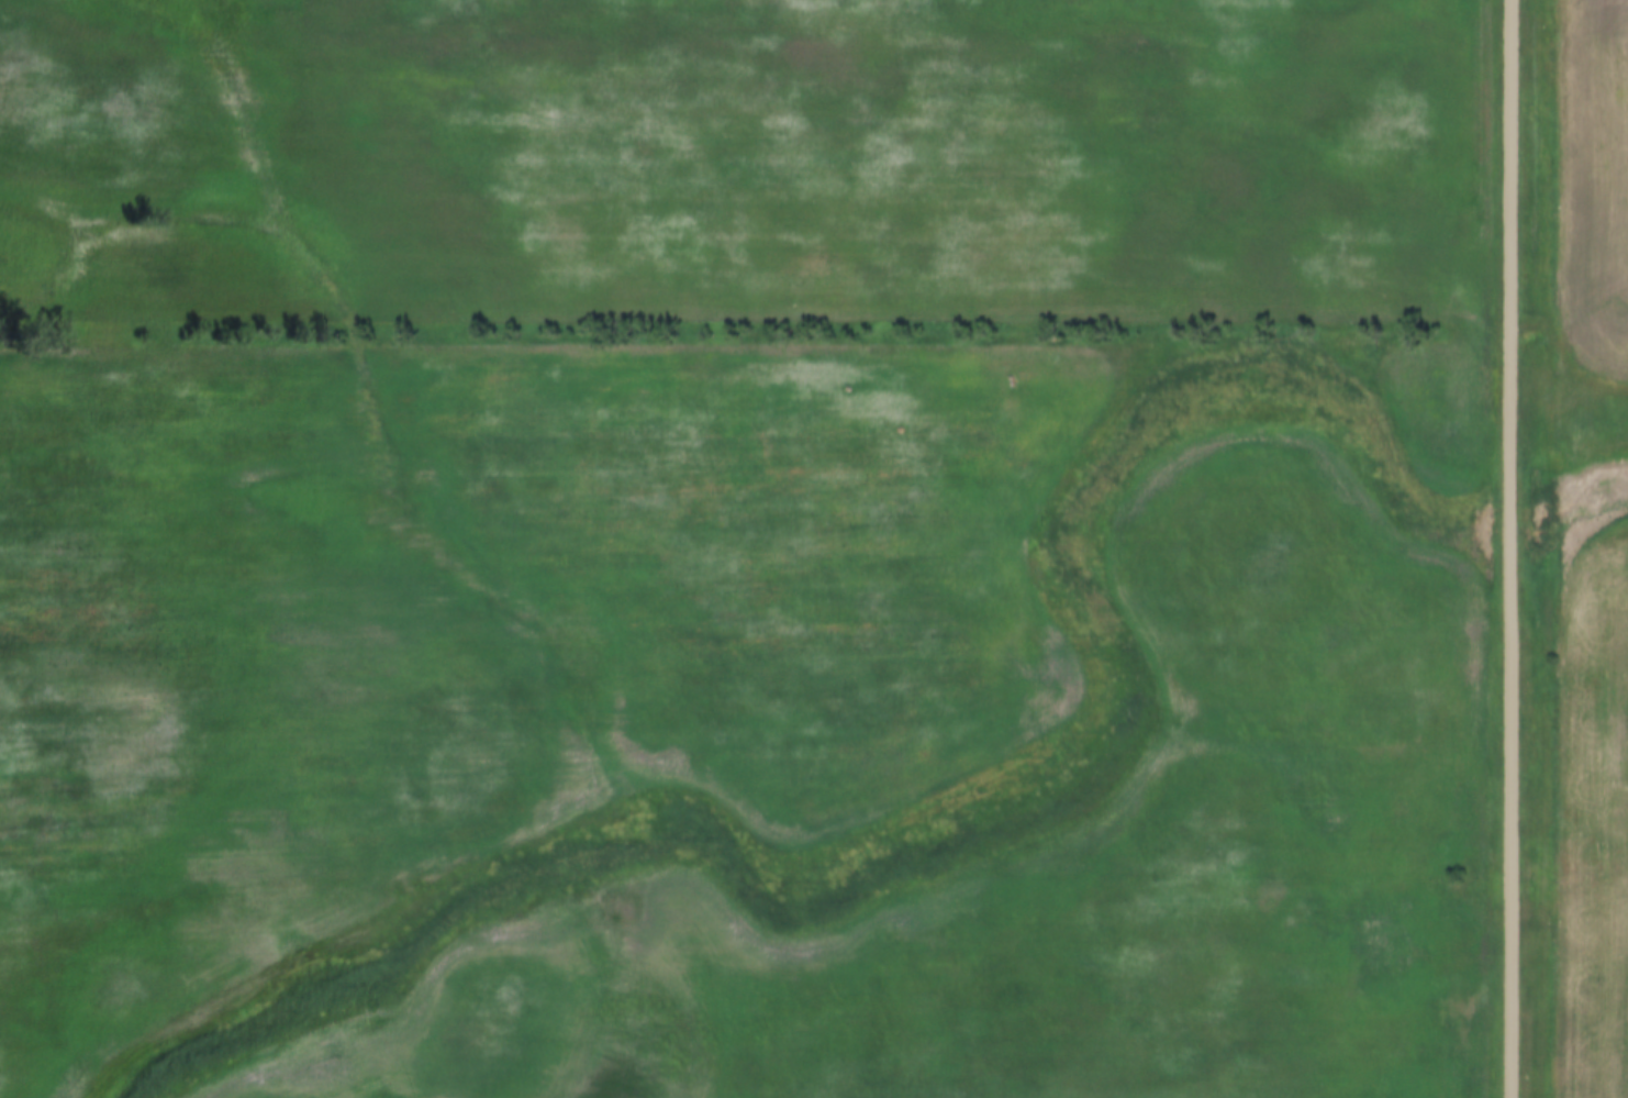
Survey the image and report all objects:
road: (1513, 548)

